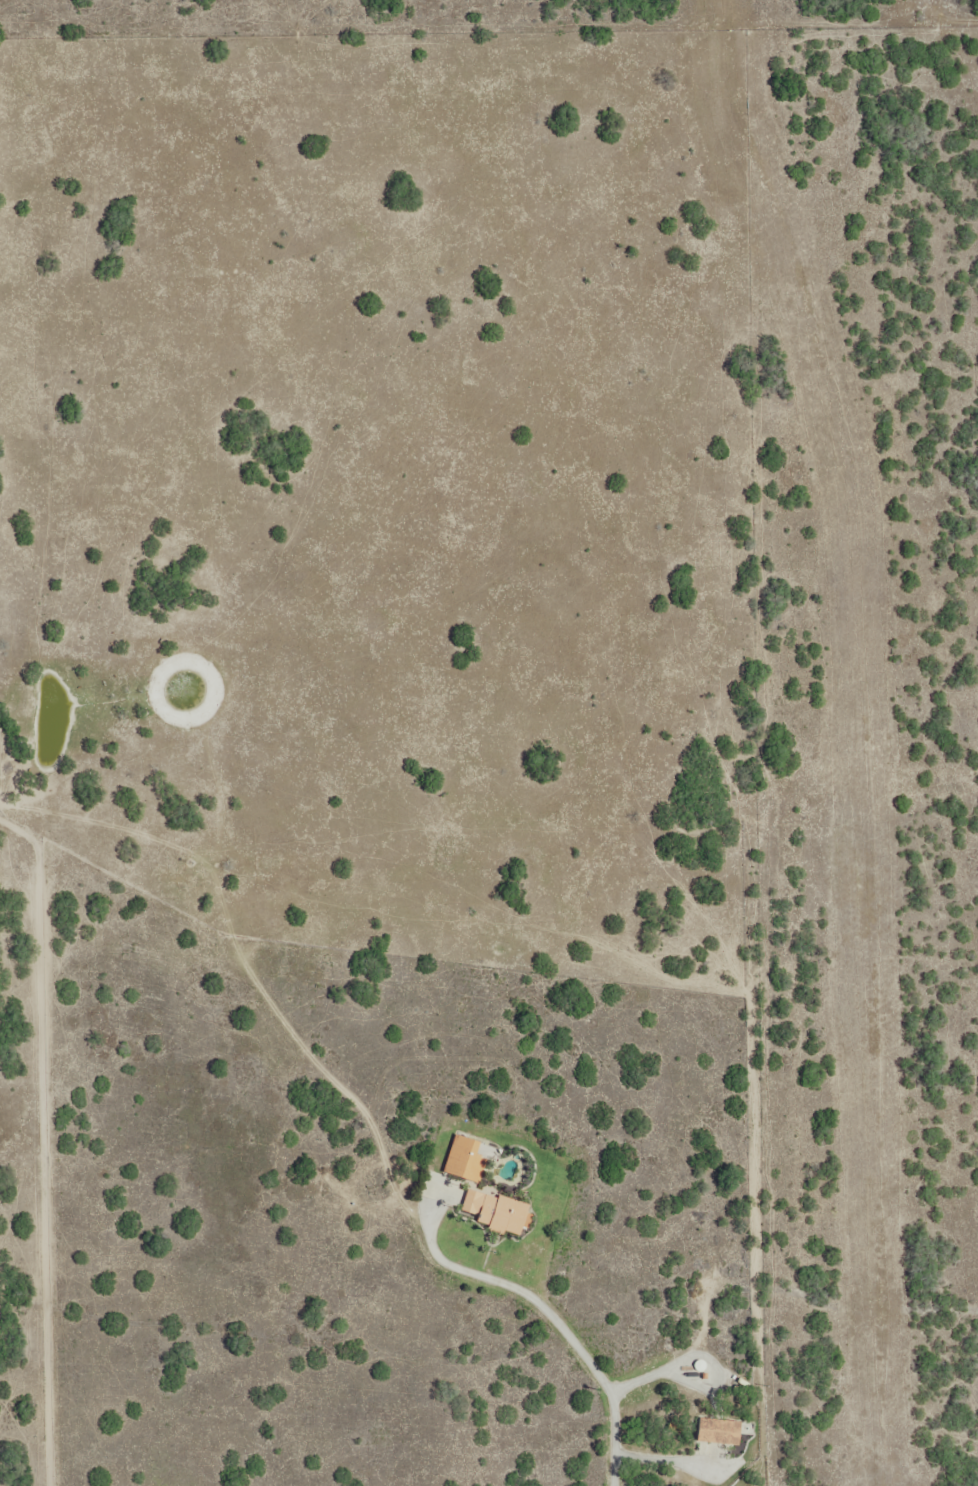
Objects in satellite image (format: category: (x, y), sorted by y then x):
building: (467, 1158)
building: (500, 1211)
road: (908, 1290)
road: (865, 1388)
building: (721, 1430)

